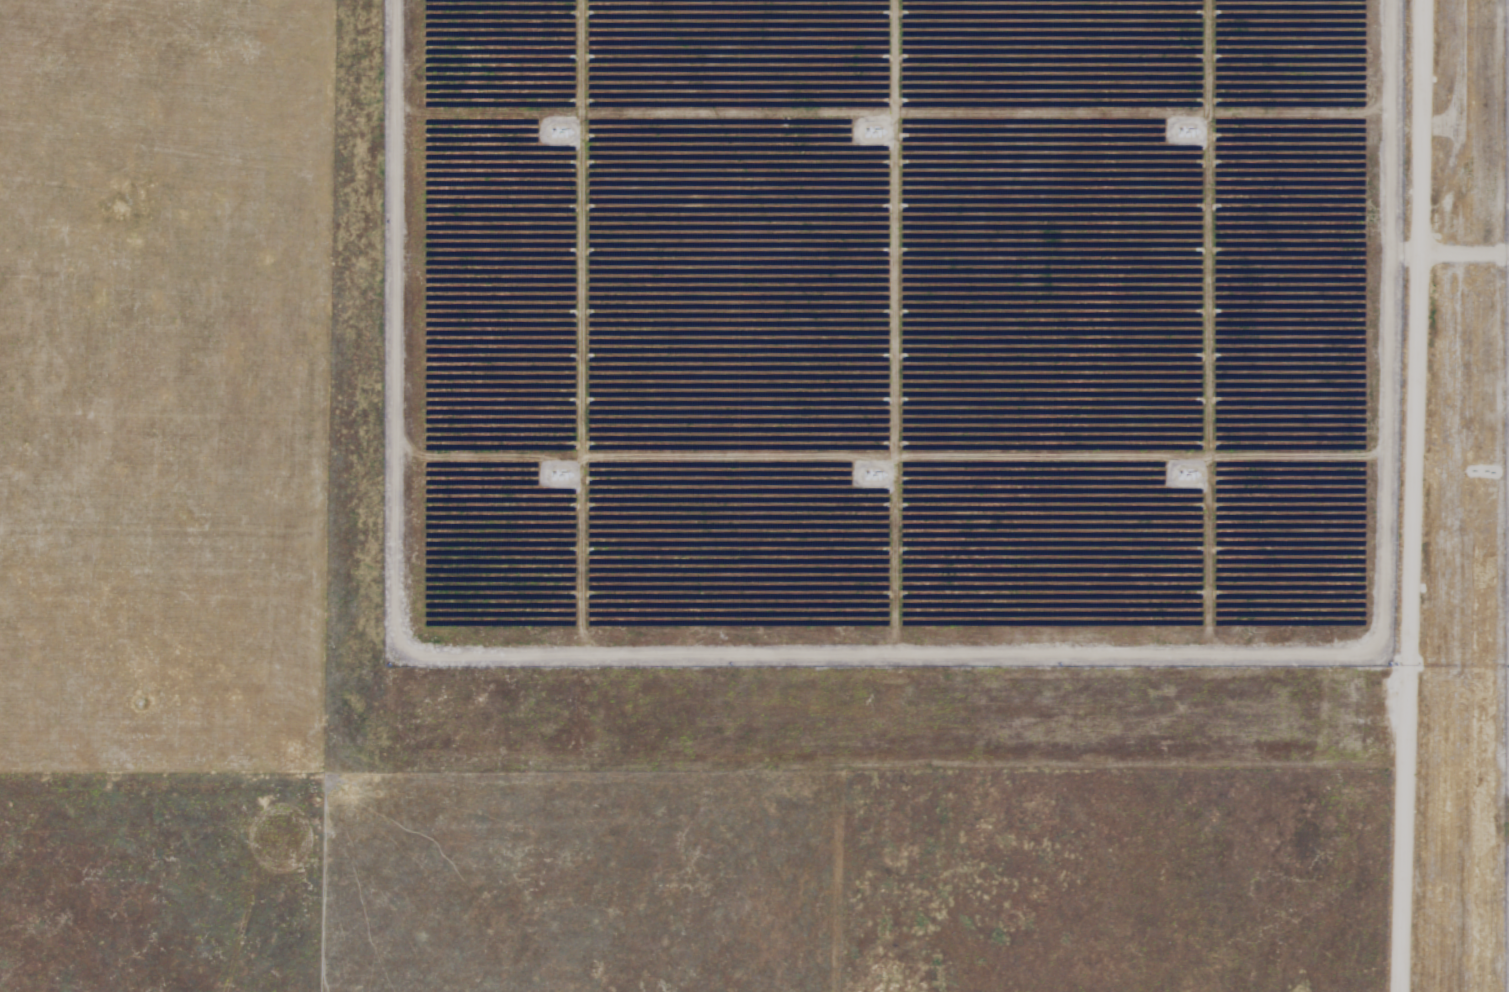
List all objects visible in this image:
solar farm: (929, 393)
road: (1417, 495)

